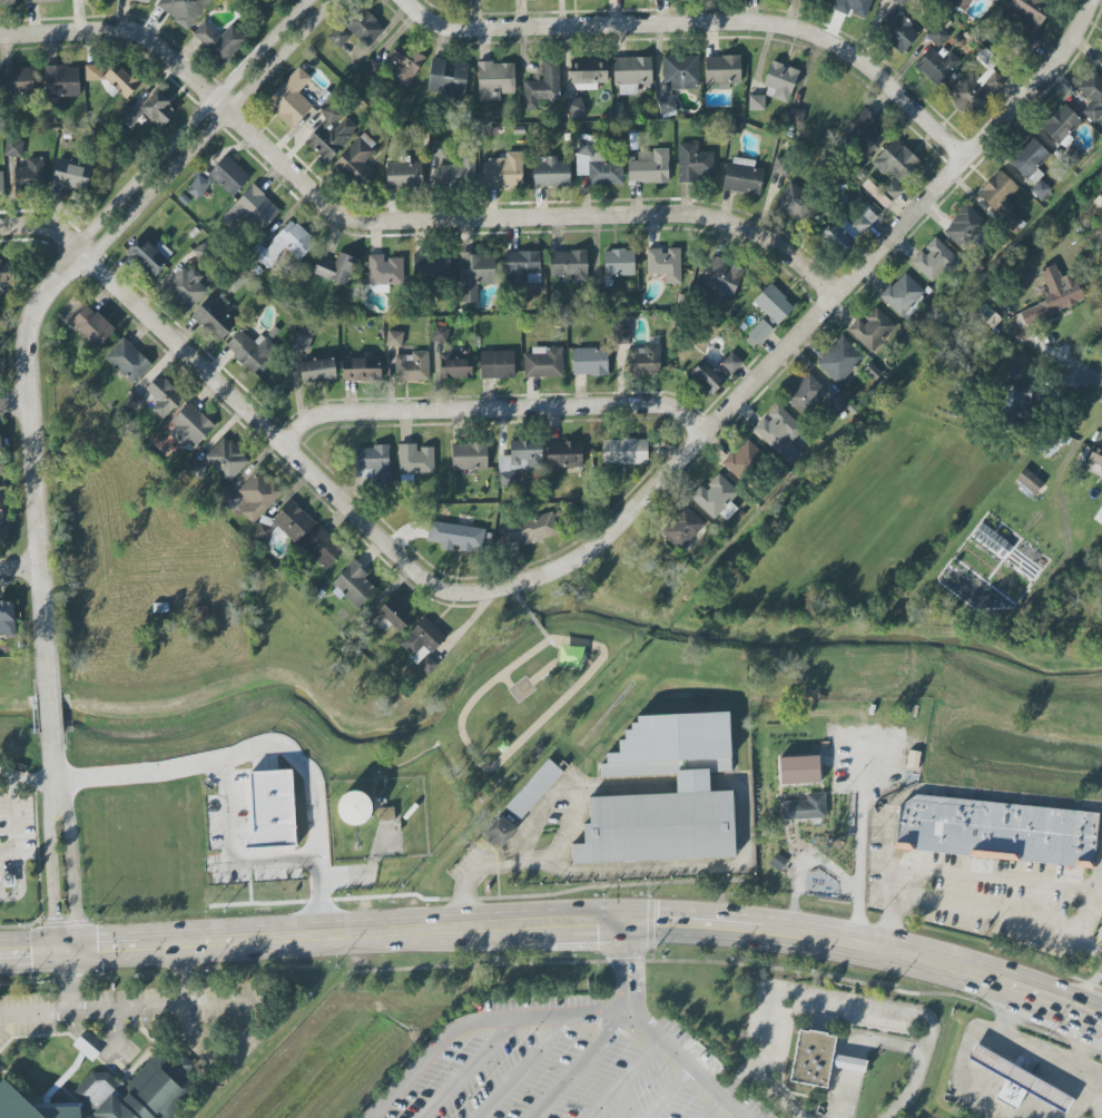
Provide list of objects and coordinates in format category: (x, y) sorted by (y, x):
building: (141, 0)
building: (824, 0)
building: (1000, 0)
building: (8, 1)
building: (41, 1)
building: (901, 1)
building: (957, 4)
building: (853, 8)
building: (181, 10)
building: (1029, 19)
road: (705, 23)
building: (362, 26)
building: (896, 31)
building: (937, 36)
building: (338, 37)
building: (218, 41)
building: (1101, 55)
building: (404, 63)
building: (935, 66)
building: (722, 70)
building: (992, 70)
building: (680, 71)
building: (631, 73)
building: (588, 75)
building: (446, 77)
building: (16, 80)
building: (494, 80)
building: (61, 81)
building: (779, 82)
building: (542, 86)
building: (967, 96)
building: (1092, 96)
building: (291, 99)
building: (756, 102)
building: (666, 105)
building: (575, 107)
building: (618, 108)
building: (148, 112)
building: (795, 116)
building: (518, 129)
building: (864, 131)
building: (328, 134)
building: (565, 136)
building: (632, 140)
building: (12, 148)
building: (440, 148)
building: (586, 148)
building: (1029, 159)
building: (895, 160)
building: (355, 161)
building: (693, 163)
building: (780, 166)
building: (649, 167)
building: (503, 171)
building: (550, 173)
building: (403, 175)
building: (455, 175)
building: (28, 176)
building: (70, 176)
building: (742, 176)
building: (220, 178)
building: (1, 184)
building: (1040, 189)
building: (892, 190)
building: (997, 193)
building: (795, 203)
building: (252, 209)
road: (396, 219)
building: (863, 220)
building: (1010, 222)
building: (966, 228)
building: (848, 229)
building: (835, 238)
building: (284, 245)
building: (149, 255)
building: (934, 261)
building: (618, 264)
building: (665, 264)
building: (569, 265)
building: (430, 266)
building: (335, 268)
building: (521, 268)
building: (384, 271)
building: (6, 273)
building: (474, 274)
building: (720, 279)
building: (232, 286)
building: (186, 287)
road: (57, 290)
building: (903, 295)
building: (1053, 295)
building: (773, 305)
building: (214, 318)
building: (96, 328)
building: (872, 330)
building: (620, 331)
road: (806, 331)
building: (759, 332)
building: (440, 334)
building: (394, 339)
building: (302, 342)
building: (249, 350)
building: (643, 360)
building: (839, 360)
building: (127, 361)
building: (589, 361)
building: (543, 362)
building: (731, 362)
road: (1070, 363)
building: (496, 364)
building: (411, 366)
building: (317, 369)
building: (361, 369)
building: (707, 377)
building: (806, 393)
building: (155, 398)
road: (240, 399)
building: (1017, 401)
road: (16, 402)
building: (836, 404)
road: (498, 412)
building: (189, 425)
building: (779, 433)
building: (624, 452)
building: (563, 454)
building: (1095, 454)
building: (469, 457)
building: (0, 458)
building: (226, 459)
building: (414, 460)
building: (519, 460)
building: (742, 460)
building: (374, 463)
building: (1100, 475)
building: (1027, 480)
building: (257, 496)
building: (716, 498)
building: (228, 499)
building: (1099, 516)
building: (293, 520)
building: (3, 523)
building: (683, 528)
building: (529, 530)
building: (263, 532)
building: (455, 537)
building: (992, 540)
building: (323, 548)
road: (20, 568)
building: (353, 585)
building: (392, 616)
building: (7, 619)
building: (422, 644)
road: (49, 709)
road: (264, 745)
building: (912, 758)
road: (53, 762)
building: (799, 769)
road: (9, 777)
road: (33, 784)
building: (532, 791)
building: (354, 807)
building: (804, 807)
building: (272, 808)
building: (385, 814)
road: (13, 826)
building: (657, 827)
building: (1000, 828)
building: (499, 832)
road: (858, 853)
road: (229, 854)
building: (776, 862)
road: (515, 863)
road: (806, 864)
road: (61, 865)
road: (982, 876)
road: (20, 884)
road: (465, 884)
road: (973, 902)
road: (1085, 906)
road: (558, 919)
road: (1101, 948)
road: (1093, 996)
road: (834, 1000)
road: (128, 1004)
road: (38, 1009)
road: (2, 1011)
road: (2, 1013)
road: (481, 1021)
road: (652, 1032)
road: (857, 1046)
building: (85, 1049)
road: (1081, 1051)
road: (1033, 1057)
building: (817, 1059)
parking lot: (579, 1062)
road: (582, 1063)
road: (525, 1066)
road: (466, 1068)
road: (962, 1071)
gas station: (1024, 1076)
building: (1019, 1077)
road: (626, 1080)
building: (1010, 1094)
road: (669, 1095)
building: (111, 1096)
road: (710, 1108)

